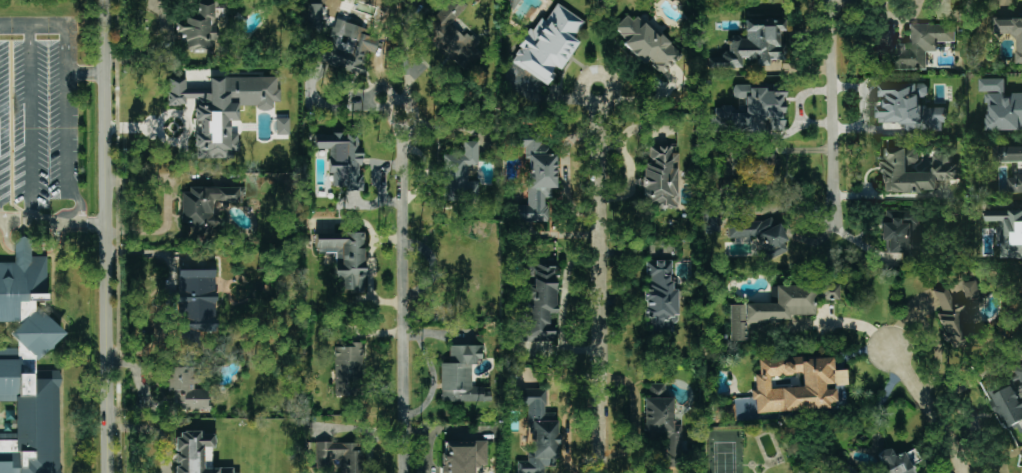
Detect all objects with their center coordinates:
building: (311, 16)
road: (58, 25)
building: (199, 27)
building: (1011, 32)
building: (449, 33)
building: (548, 44)
building: (647, 44)
building: (753, 45)
building: (910, 45)
building: (348, 46)
road: (405, 68)
road: (53, 82)
building: (1002, 105)
building: (909, 107)
building: (221, 109)
building: (750, 111)
road: (832, 112)
building: (282, 126)
road: (448, 126)
road: (29, 151)
road: (64, 154)
building: (342, 159)
building: (460, 166)
building: (767, 167)
building: (896, 167)
building: (1020, 169)
building: (660, 177)
building: (536, 178)
building: (205, 204)
road: (52, 224)
building: (1008, 231)
building: (903, 234)
building: (761, 235)
road: (105, 236)
road: (28, 249)
building: (346, 257)
road: (599, 281)
road: (402, 294)
building: (660, 296)
building: (539, 299)
building: (791, 302)
building: (958, 311)
building: (736, 323)
building: (28, 367)
building: (348, 369)
building: (1019, 371)
building: (461, 376)
building: (796, 384)
building: (186, 389)
building: (1019, 391)
building: (1007, 406)
road: (929, 410)
building: (724, 413)
building: (663, 427)
building: (538, 431)
building: (194, 453)
building: (340, 456)
building: (463, 456)
building: (912, 456)
building: (893, 462)

